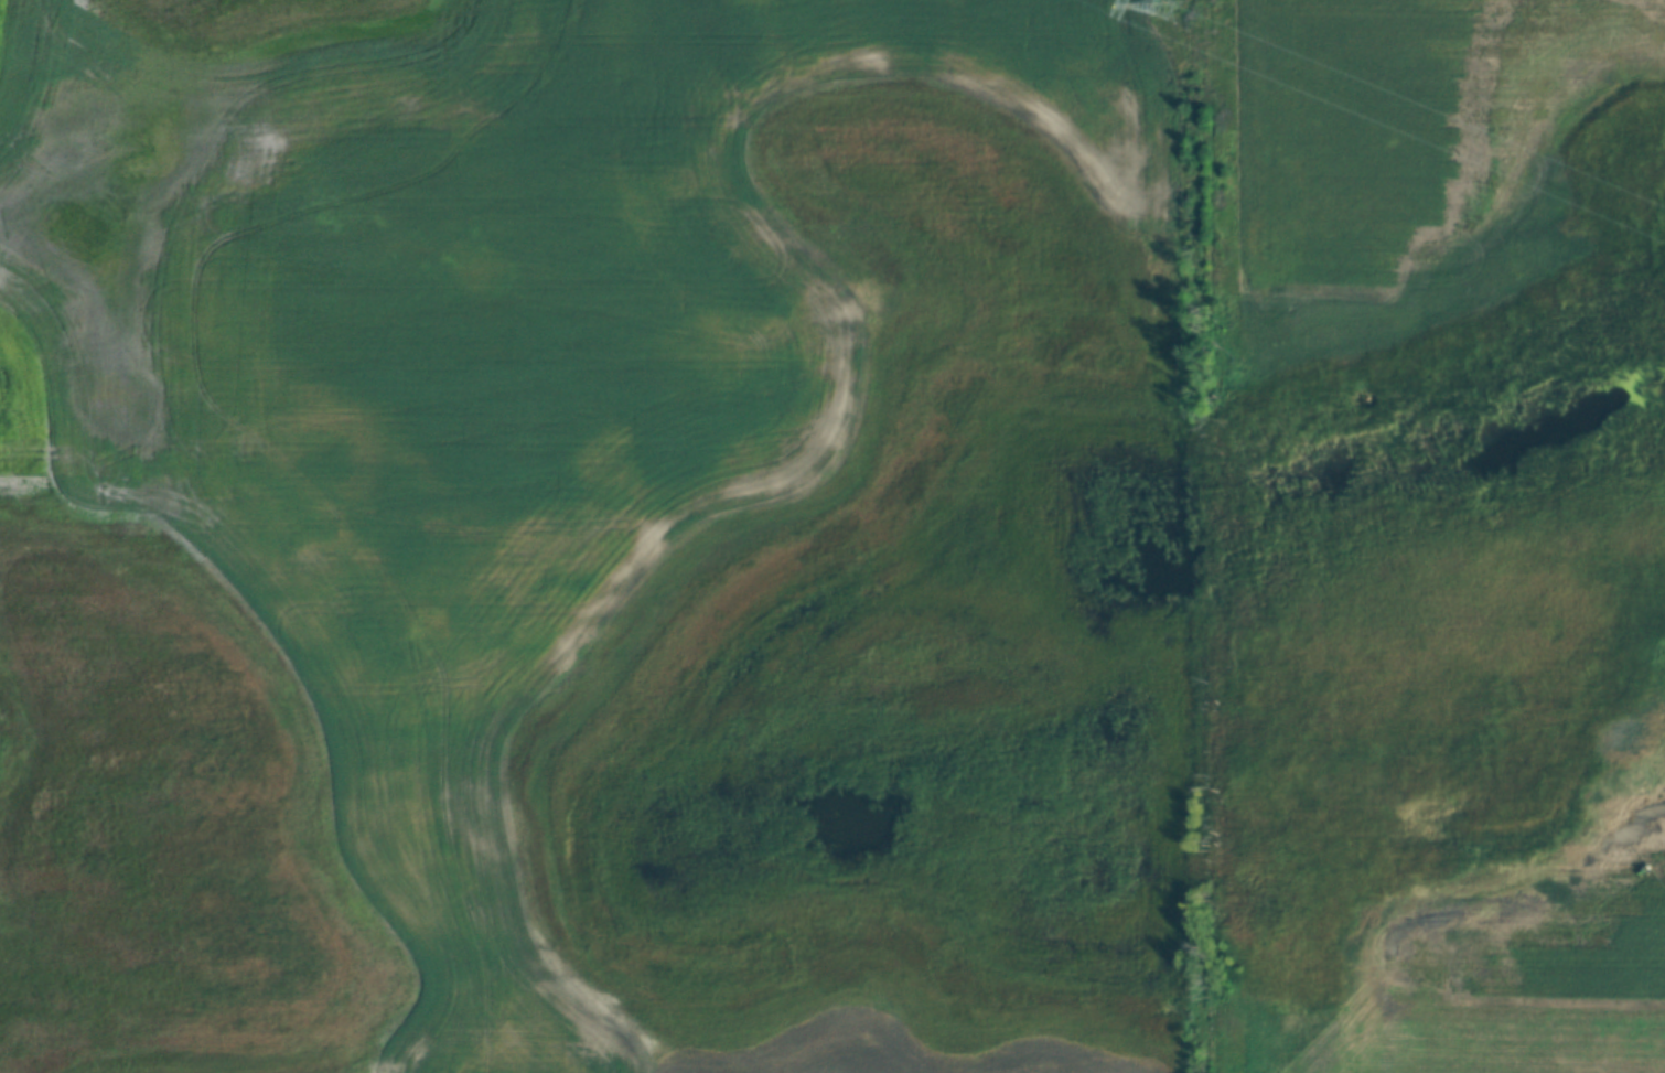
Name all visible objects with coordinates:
power tower: (1165, 11)

